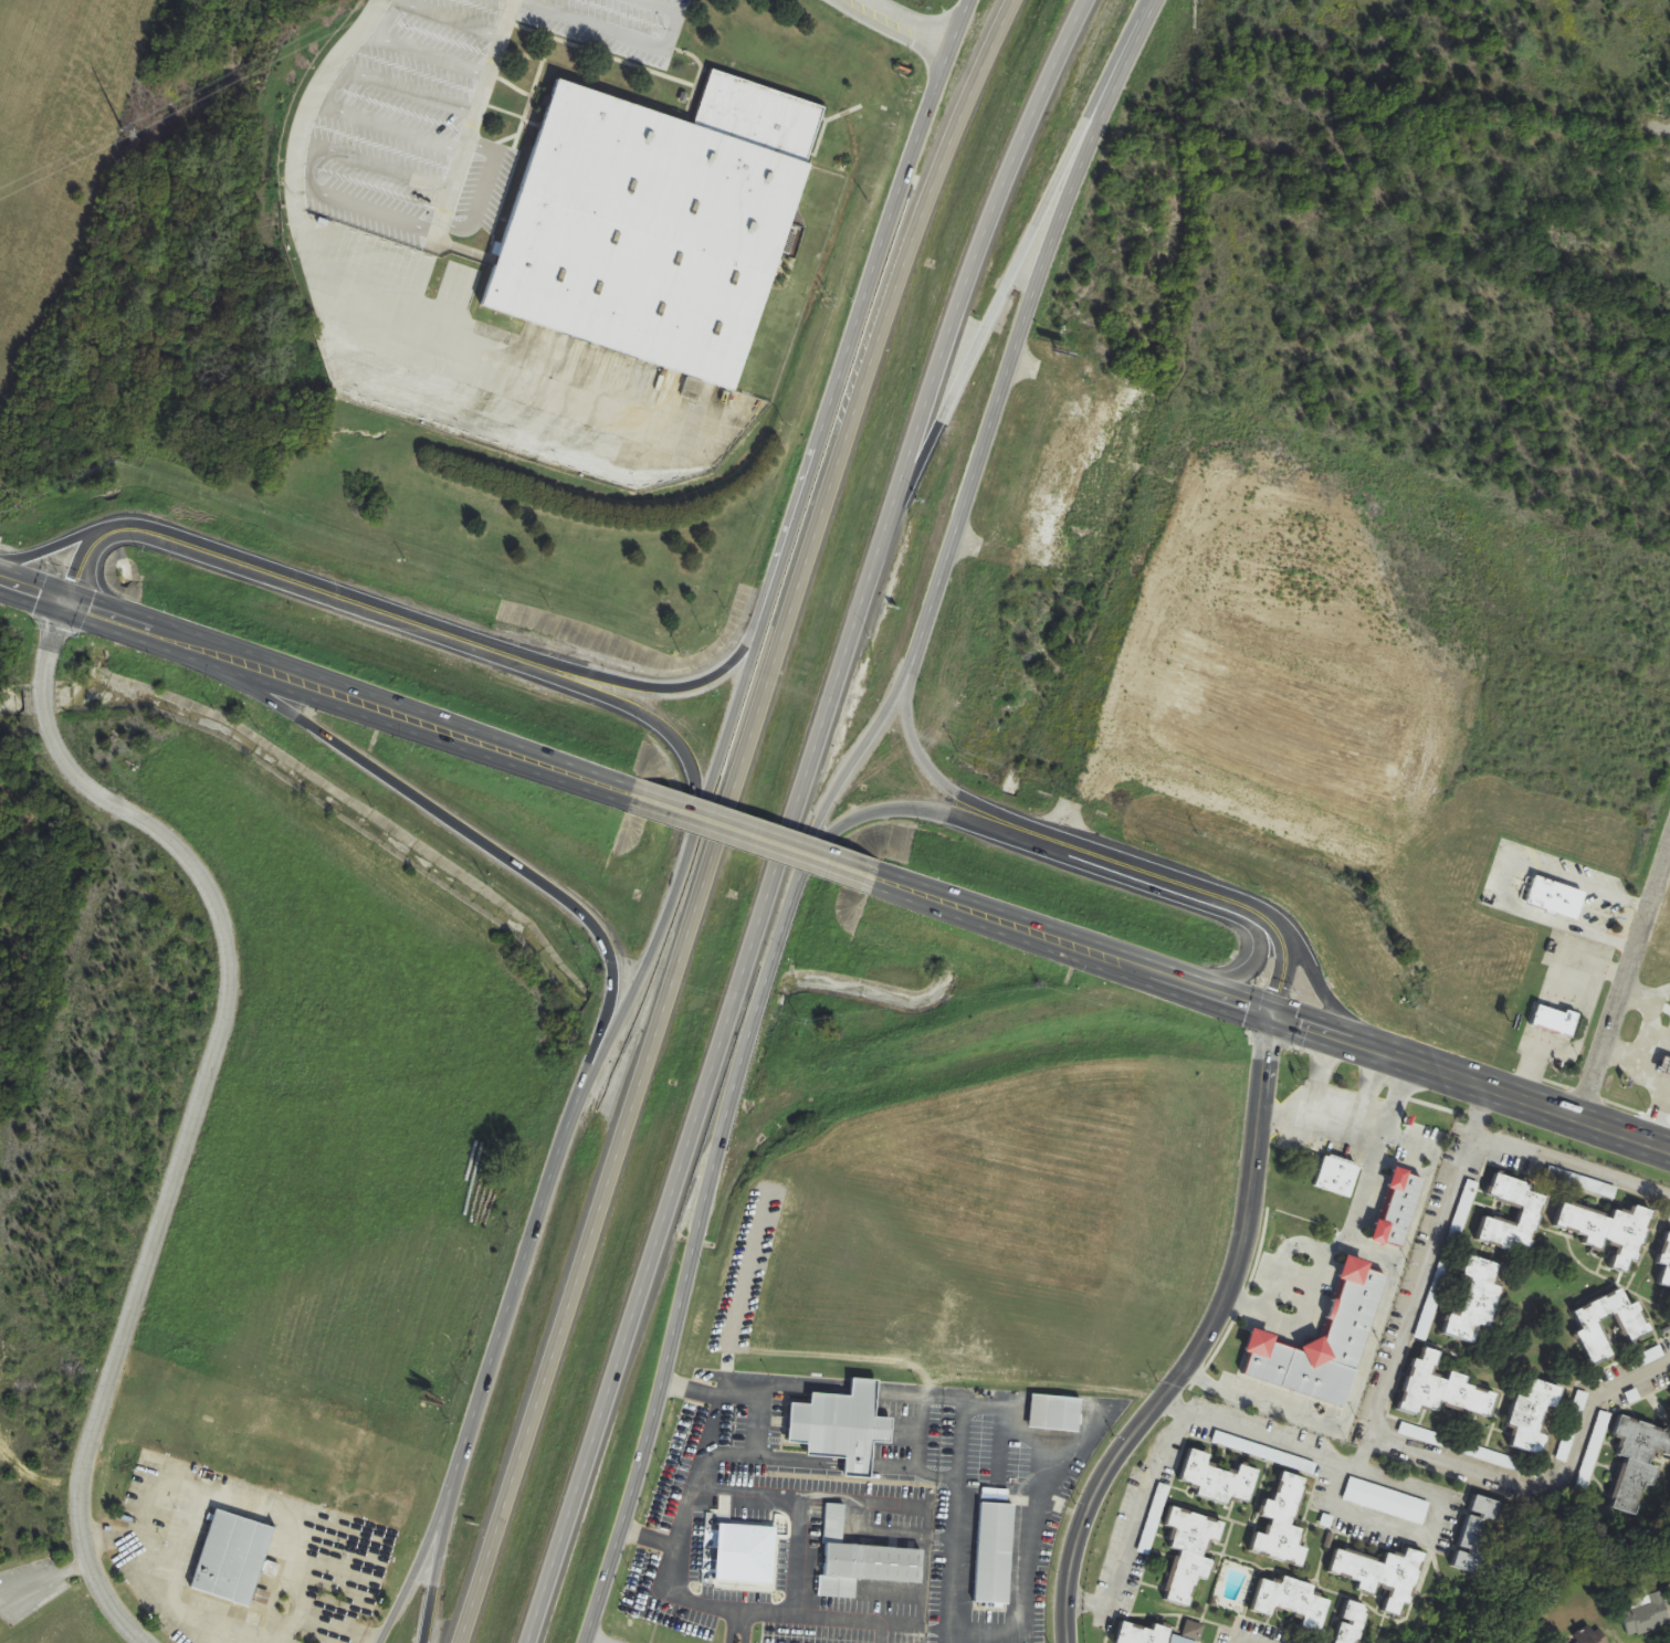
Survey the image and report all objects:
road: (901, 23)
road: (623, 35)
road: (1131, 54)
road: (937, 73)
road: (978, 77)
road: (309, 99)
parking lot: (399, 117)
road: (472, 120)
road: (1653, 128)
power tower: (120, 130)
building: (653, 222)
road: (965, 286)
road: (980, 341)
road: (831, 392)
road: (999, 396)
road: (55, 547)
road: (20, 557)
road: (258, 570)
road: (628, 685)
road: (313, 688)
road: (621, 715)
road: (920, 757)
road: (883, 812)
road: (458, 832)
road: (753, 838)
road: (687, 853)
road: (1167, 878)
road: (694, 896)
building: (1555, 897)
road: (1247, 970)
road: (1625, 983)
road: (1322, 988)
road: (1638, 997)
traffic signals: (1274, 1012)
road: (1275, 1012)
building: (1555, 1020)
road: (1576, 1032)
road: (1639, 1041)
road: (1655, 1043)
road: (1617, 1055)
building: (1666, 1064)
road: (1667, 1086)
road: (201, 1099)
building: (1346, 1100)
road: (1363, 1100)
road: (1304, 1104)
road: (699, 1112)
road: (1652, 1113)
road: (1275, 1120)
road: (1385, 1131)
road: (721, 1155)
road: (1571, 1163)
road: (1401, 1166)
building: (1337, 1176)
road: (1364, 1189)
building: (1531, 1211)
road: (1412, 1218)
building: (1607, 1231)
road: (1368, 1253)
road: (1277, 1257)
road: (527, 1258)
building: (1666, 1262)
building: (1474, 1300)
road: (1302, 1314)
building: (1635, 1326)
road: (1199, 1341)
building: (1327, 1347)
building: (1646, 1358)
road: (1388, 1373)
building: (286, 1382)
road: (674, 1386)
road: (765, 1388)
road: (859, 1388)
building: (1442, 1389)
road: (931, 1394)
road: (970, 1398)
building: (1055, 1413)
building: (1534, 1413)
road: (920, 1416)
road: (1001, 1416)
road: (1341, 1420)
building: (842, 1426)
building: (1573, 1426)
building: (1412, 1432)
road: (1025, 1434)
road: (960, 1437)
building: (1595, 1446)
road: (705, 1450)
road: (998, 1456)
road: (795, 1458)
building: (1638, 1461)
road: (853, 1464)
road: (891, 1466)
road: (946, 1477)
building: (1219, 1478)
road: (725, 1481)
road: (1546, 1481)
building: (1386, 1500)
road: (1137, 1506)
road: (926, 1518)
building: (1281, 1523)
road: (1419, 1534)
building: (1478, 1534)
road: (645, 1536)
road: (441, 1551)
building: (995, 1552)
building: (1189, 1552)
road: (426, 1554)
building: (232, 1557)
building: (862, 1560)
road: (953, 1560)
building: (755, 1561)
road: (1025, 1568)
building: (1382, 1574)
road: (44, 1577)
road: (665, 1590)
building: (1292, 1602)
building: (1647, 1614)
road: (726, 1615)
road: (829, 1620)
building: (1353, 1623)
road: (936, 1629)
building: (1194, 1630)
road: (729, 1631)
road: (739, 1632)
road: (879, 1633)
building: (1143, 1633)
building: (1588, 1635)
road: (1247, 1640)

